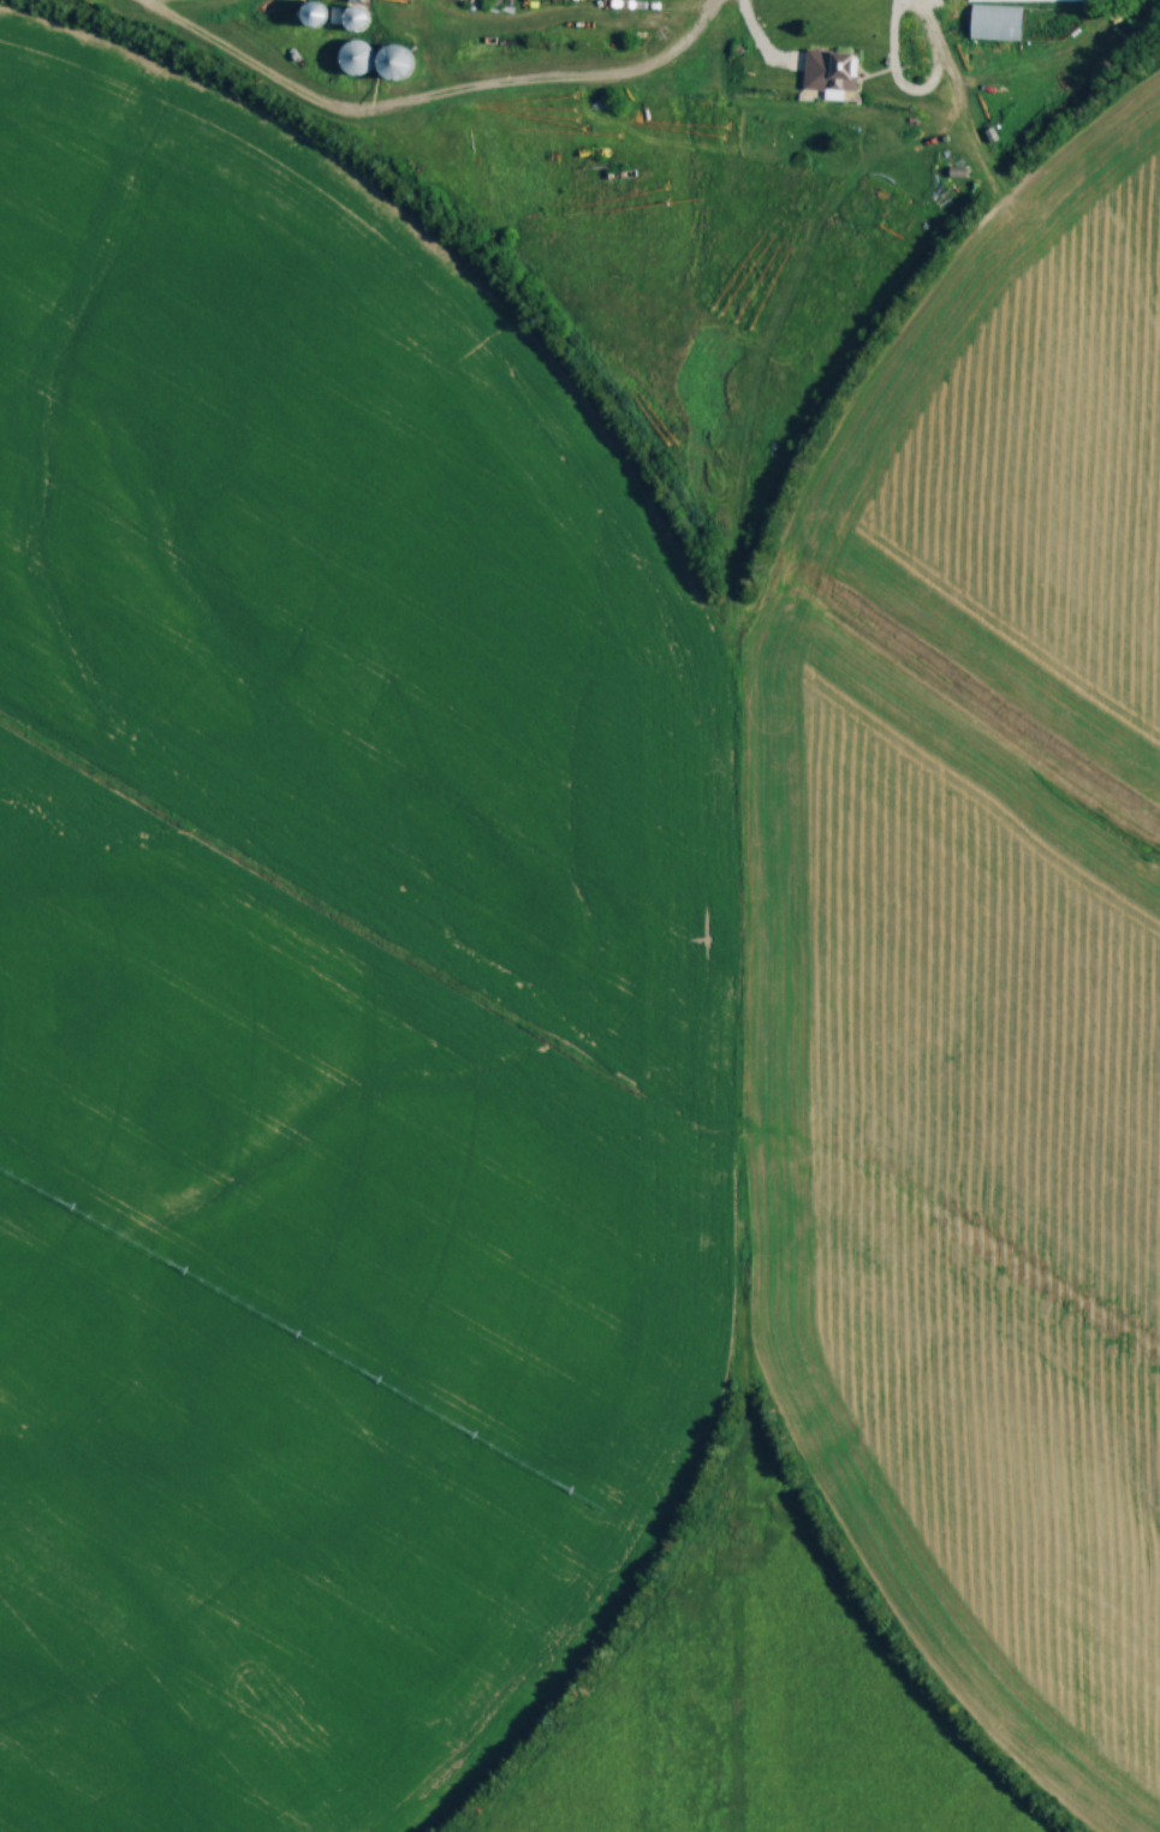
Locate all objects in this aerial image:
building: (1039, 0)
building: (320, 16)
building: (358, 20)
building: (998, 23)
building: (361, 59)
building: (399, 64)
building: (833, 72)
road: (915, 93)

